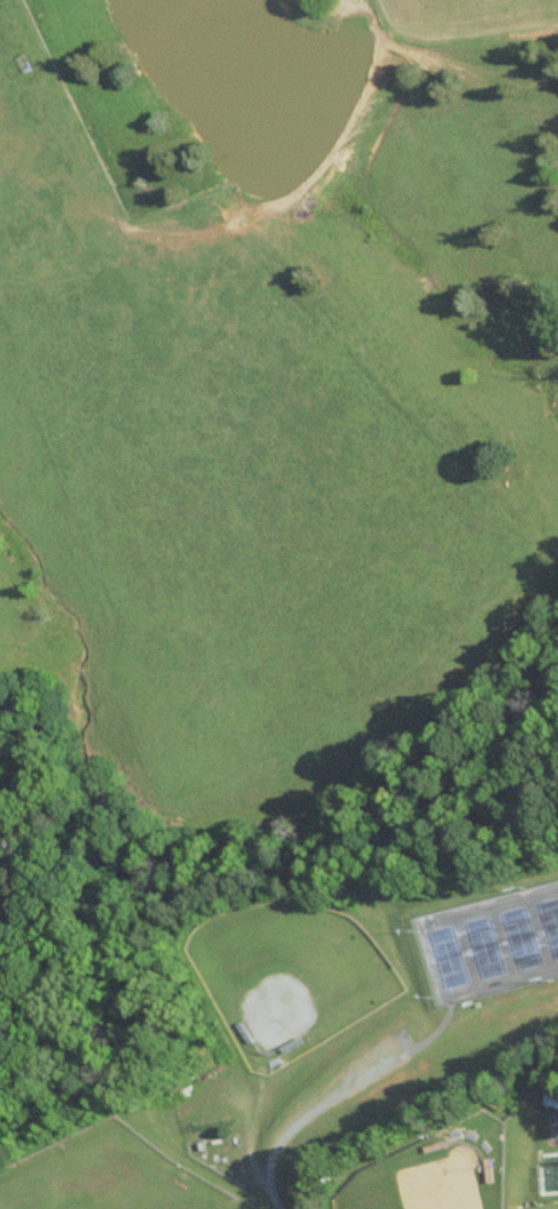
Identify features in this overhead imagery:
park: (492, 939)
park: (286, 973)
road: (308, 1113)
park: (428, 1178)
park: (535, 1204)

